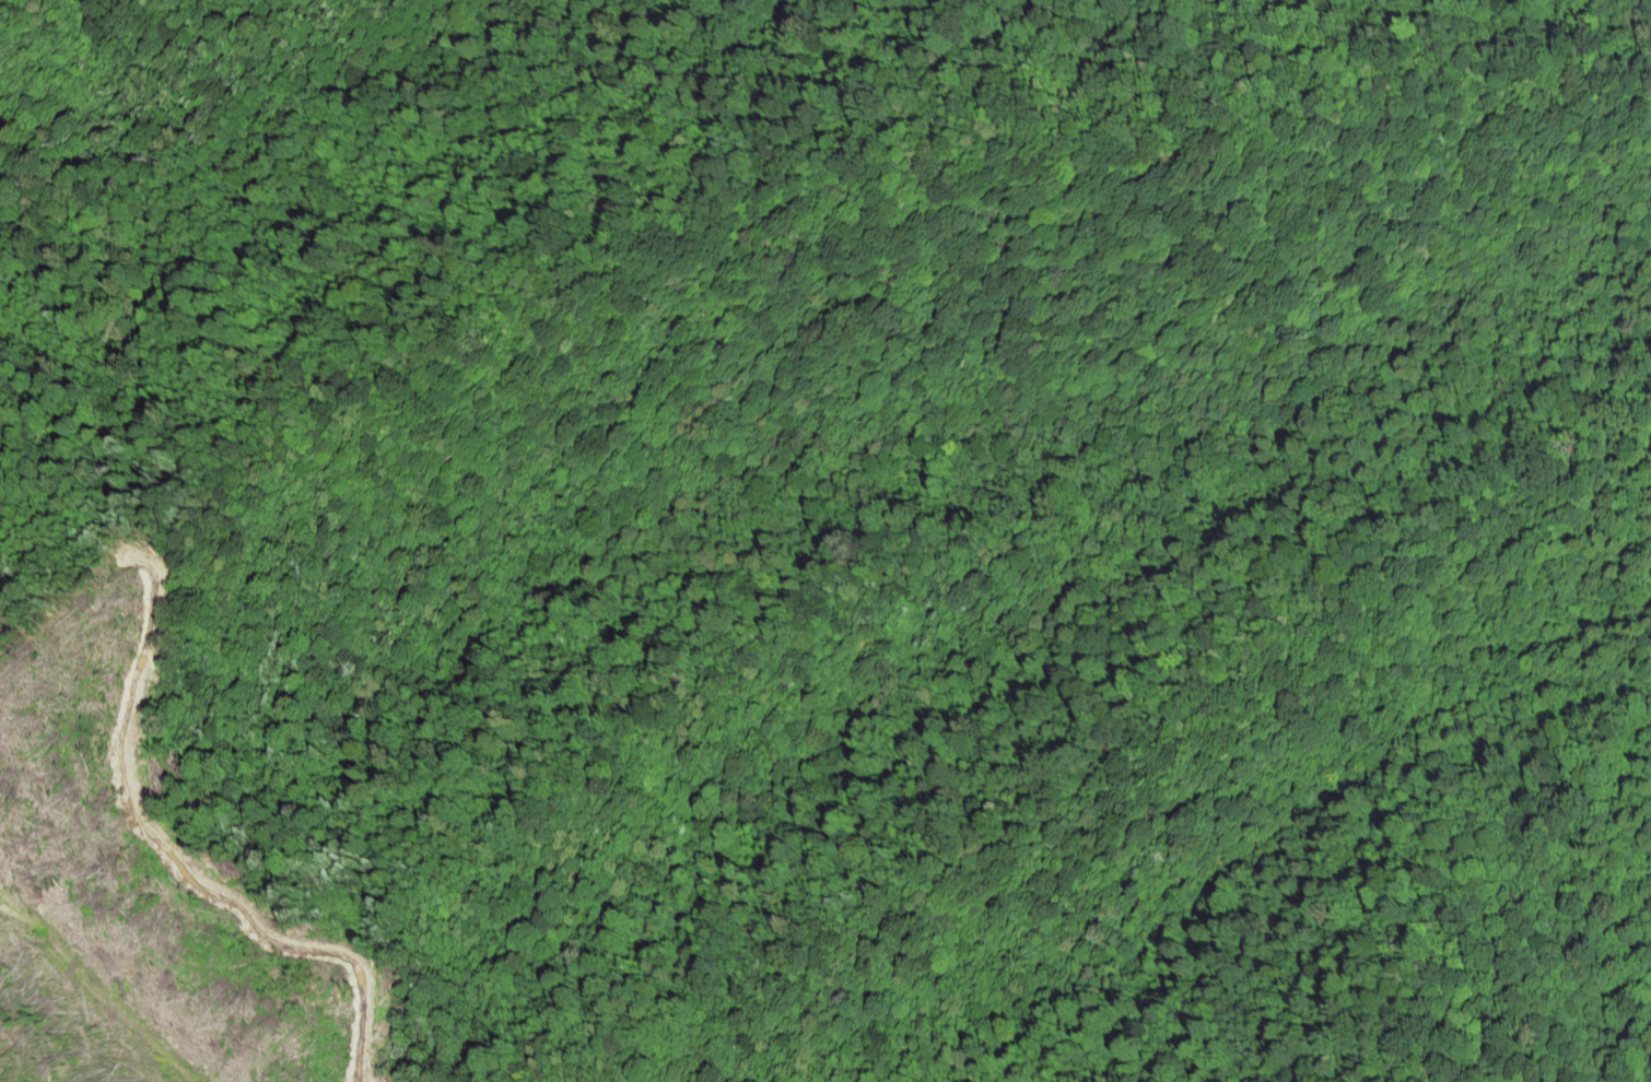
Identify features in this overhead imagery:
quarry: (141, 868)

